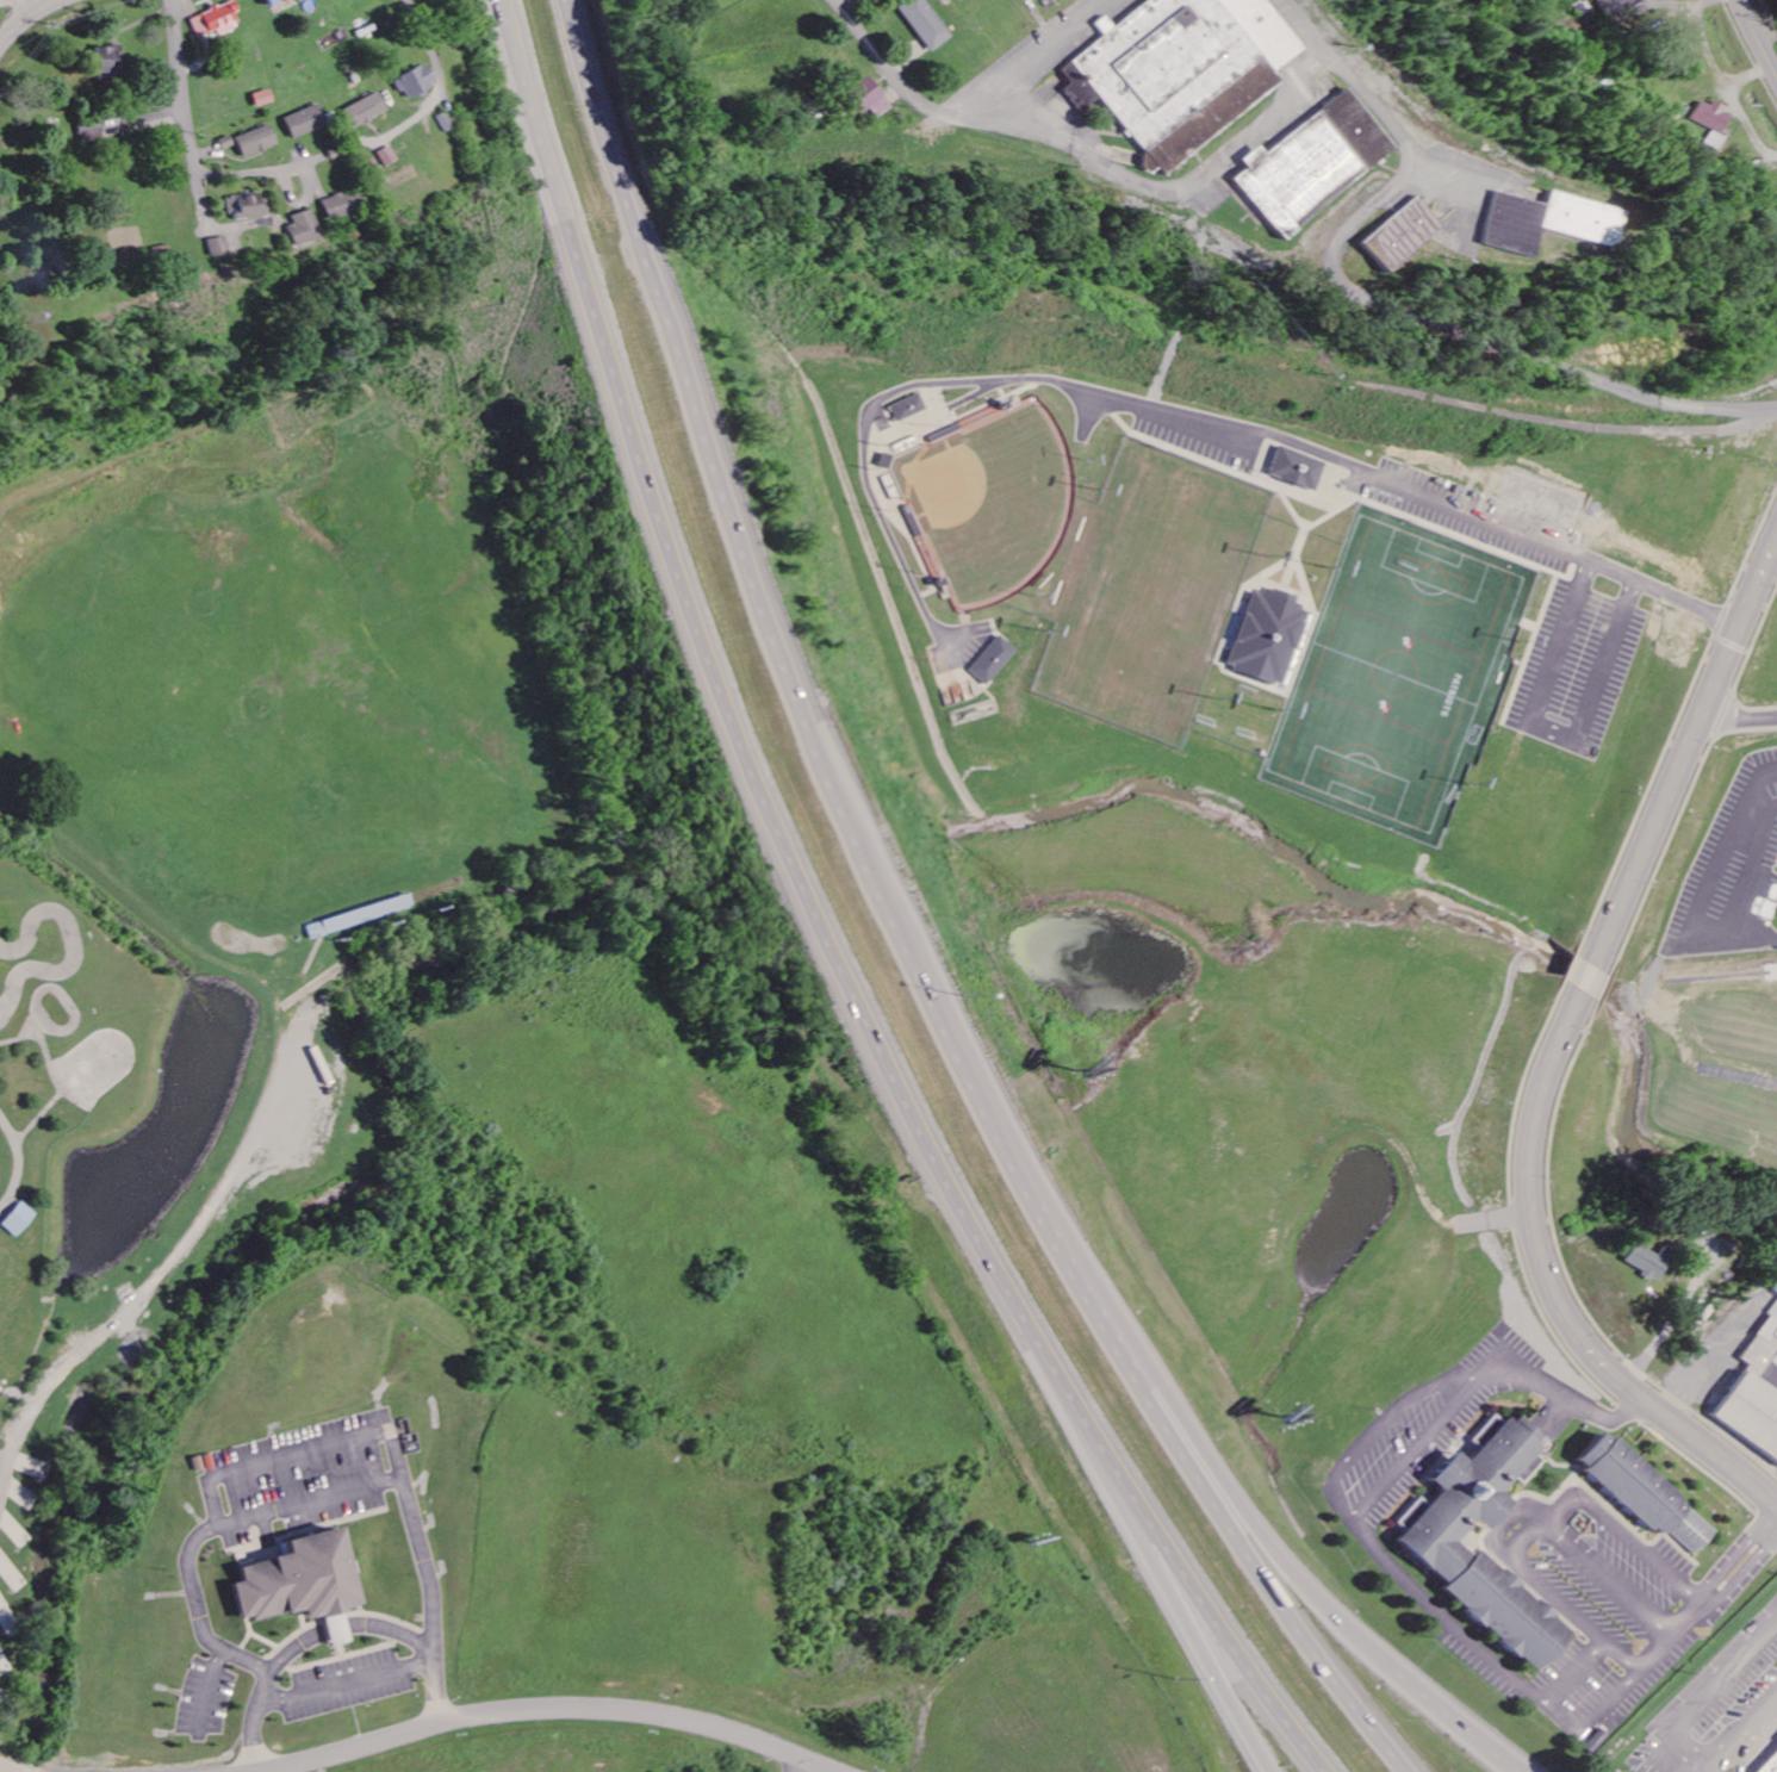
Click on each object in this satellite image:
building: (300, 0)
building: (1025, 0)
road: (8, 1)
building: (273, 1)
building: (1617, 5)
road: (849, 7)
road: (29, 18)
building: (924, 23)
road: (1758, 36)
road: (425, 38)
building: (108, 60)
road: (1032, 60)
building: (1180, 70)
building: (415, 81)
building: (263, 98)
building: (868, 99)
road: (185, 101)
road: (1379, 108)
building: (365, 111)
building: (1715, 116)
building: (305, 120)
building: (256, 141)
building: (1309, 161)
road: (271, 169)
building: (335, 205)
building: (246, 206)
road: (210, 220)
building: (1548, 222)
building: (298, 229)
building: (1398, 235)
building: (213, 247)
road: (610, 253)
building: (912, 408)
building: (1300, 468)
parking lot: (1374, 484)
park: (976, 486)
road: (1658, 590)
park: (1155, 596)
building: (1268, 636)
building: (992, 660)
park: (1404, 678)
road: (1739, 722)
building: (346, 921)
road: (828, 929)
road: (886, 932)
road: (1562, 1049)
water park: (105, 1117)
building: (14, 1214)
road: (174, 1257)
building: (1648, 1262)
building: (1776, 1318)
road: (1516, 1380)
building: (1759, 1401)
road: (1593, 1415)
road: (1386, 1428)
road: (1424, 1450)
road: (2, 1466)
road: (336, 1492)
building: (1641, 1493)
road: (1547, 1529)
road: (1259, 1531)
building: (1442, 1555)
road: (1162, 1558)
road: (1747, 1563)
road: (1406, 1579)
building: (300, 1581)
road: (1614, 1584)
road: (296, 1644)
road: (1707, 1692)
road: (548, 1712)
road: (1591, 1726)
road: (1250, 1727)
road: (1738, 1734)
road: (803, 1768)
building: (1773, 1768)

